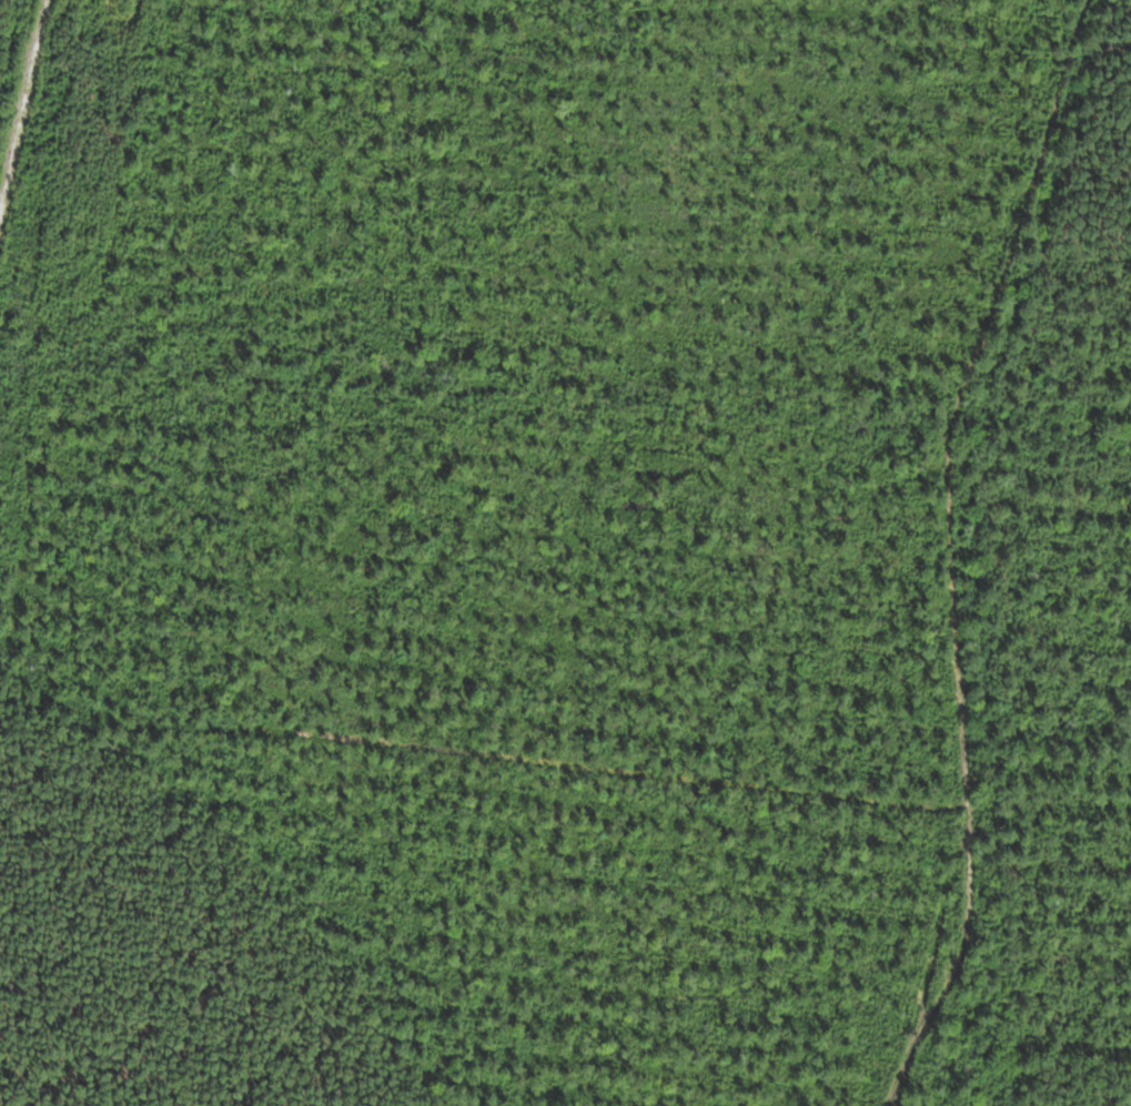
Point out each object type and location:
road: (21, 95)

